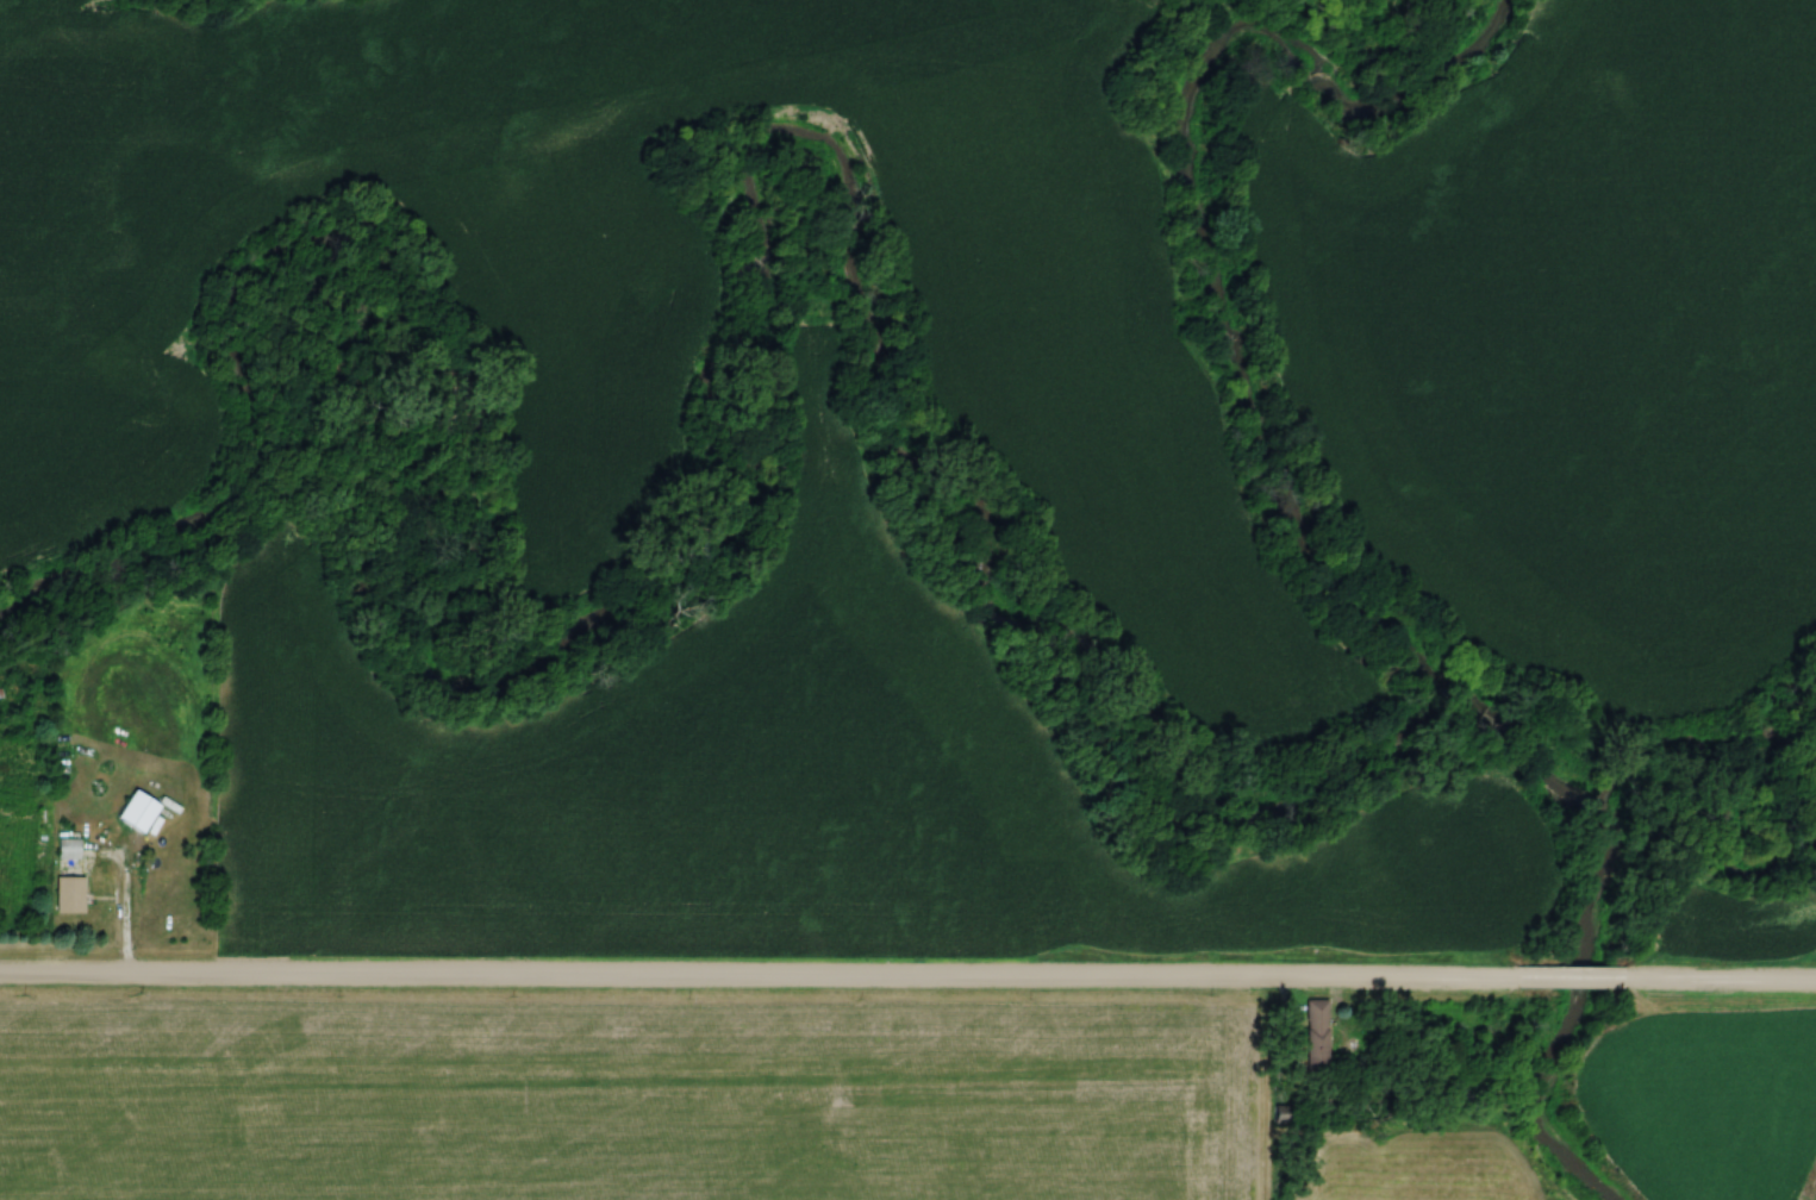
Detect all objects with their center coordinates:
river: (713, 473)
river: (1294, 511)
building: (136, 813)
building: (67, 850)
building: (68, 896)
road: (123, 908)
road: (1585, 974)
road: (1720, 976)
road: (773, 980)
building: (1316, 1038)
crop: (619, 1099)

